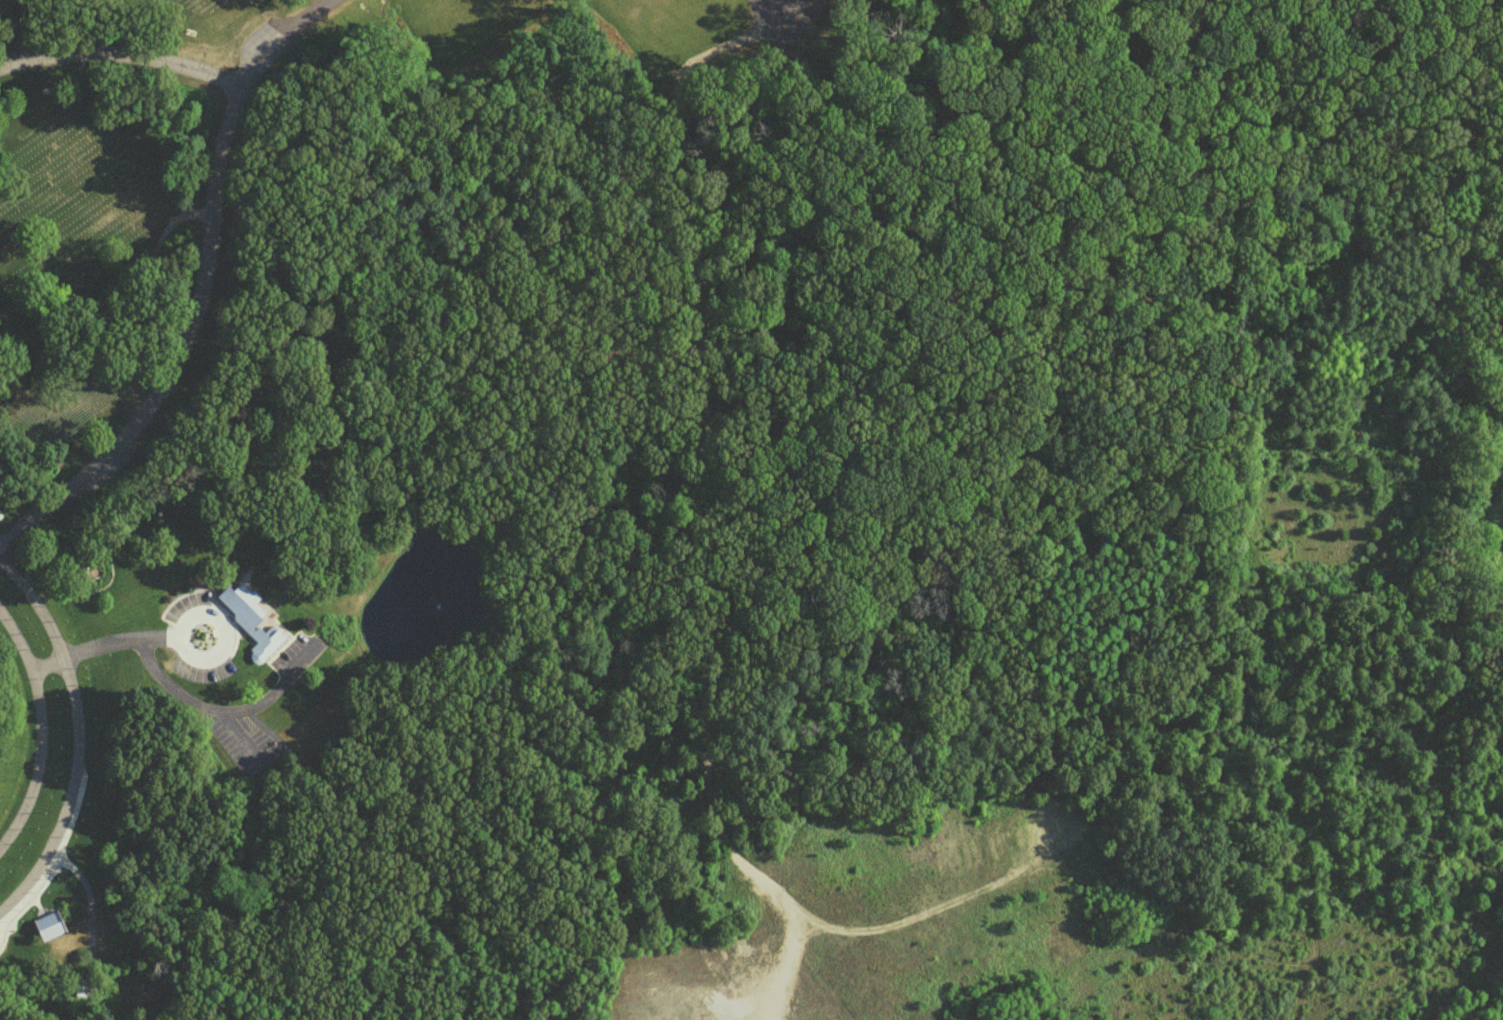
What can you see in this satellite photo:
road: (778, 2)
road: (297, 16)
road: (122, 58)
road: (191, 318)
road: (331, 360)
park: (309, 395)
road: (141, 531)
road: (270, 540)
building: (252, 619)
road: (224, 633)
road: (103, 648)
road: (222, 710)
road: (41, 734)
road: (236, 735)
road: (80, 739)
road: (376, 851)
road: (90, 912)
building: (47, 923)

